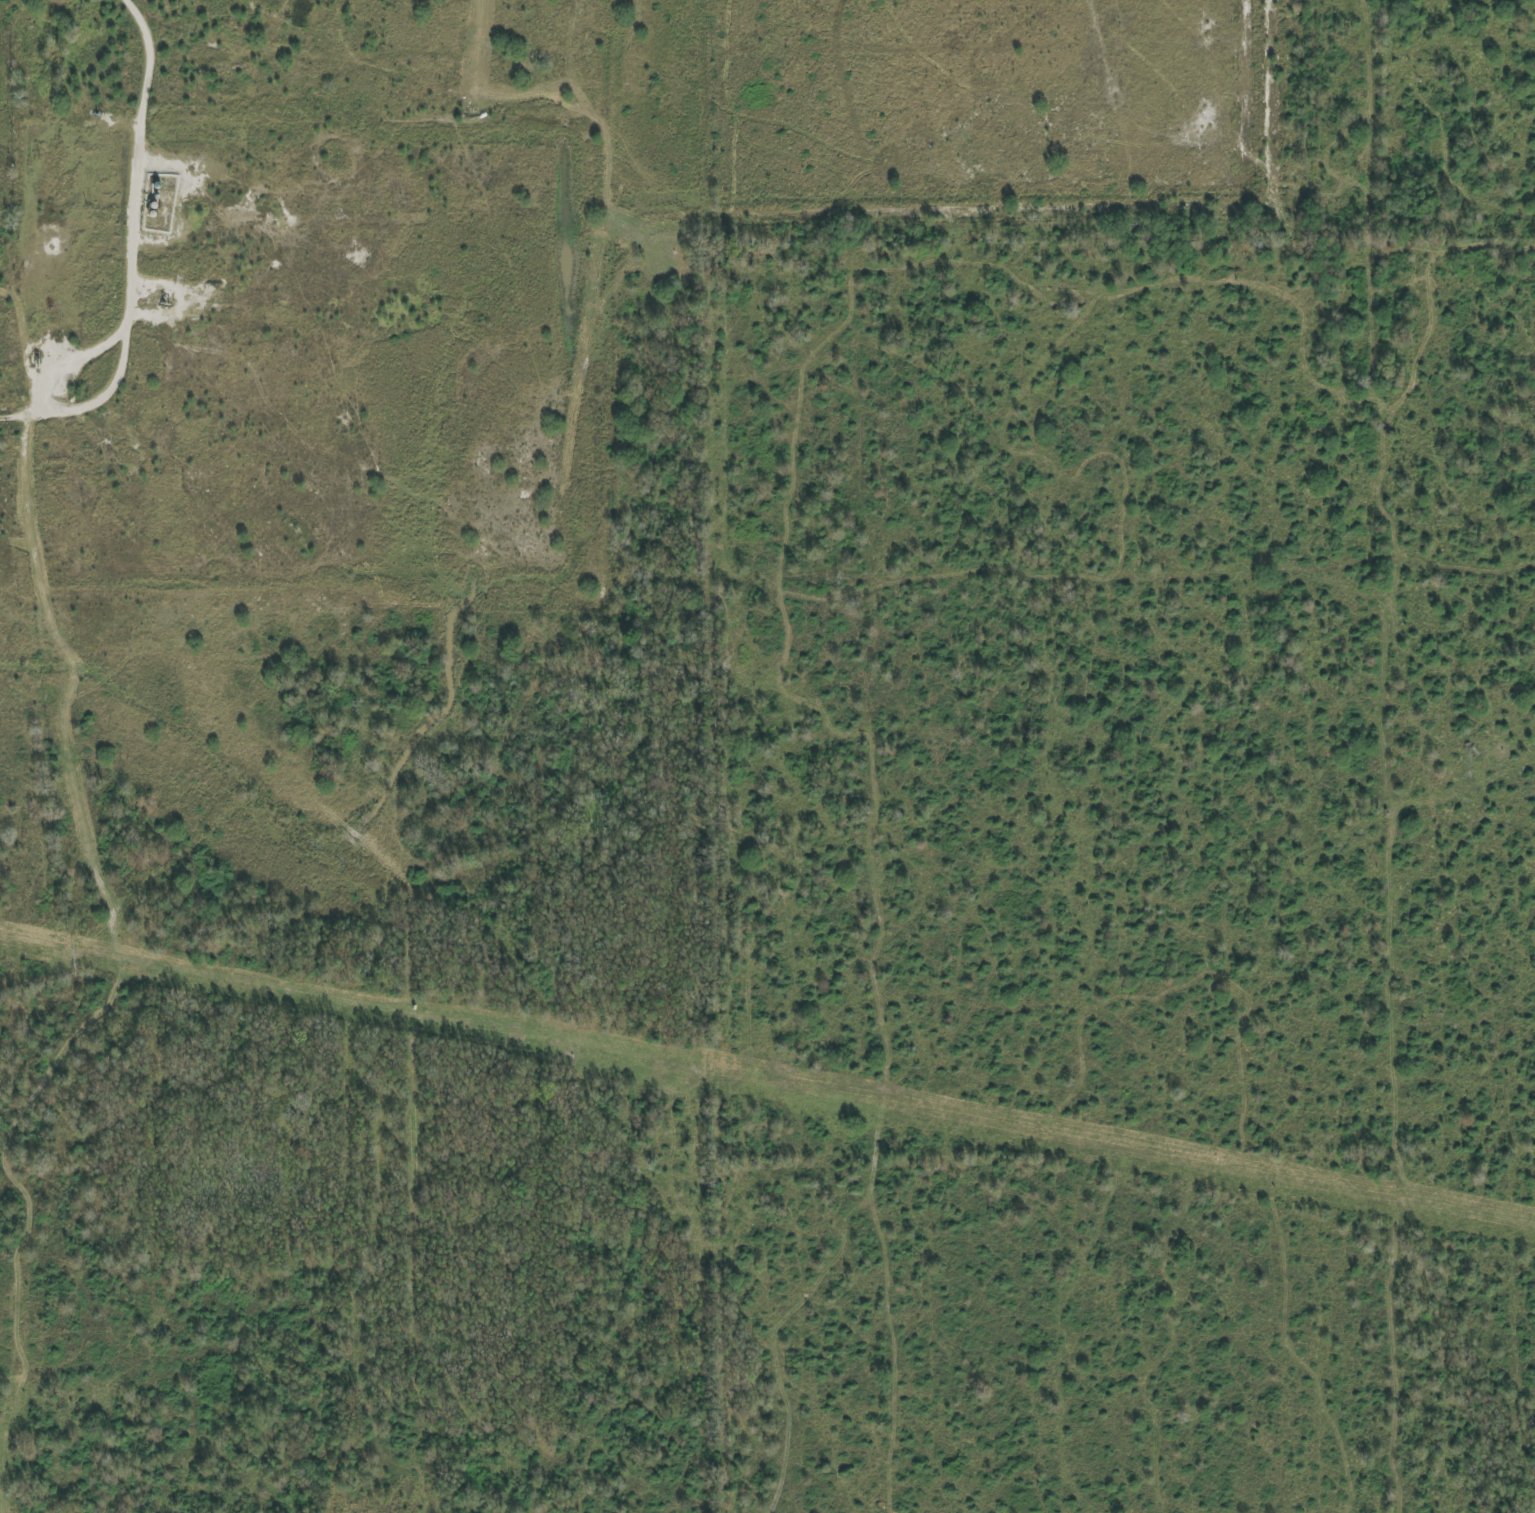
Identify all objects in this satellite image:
road: (134, 253)

